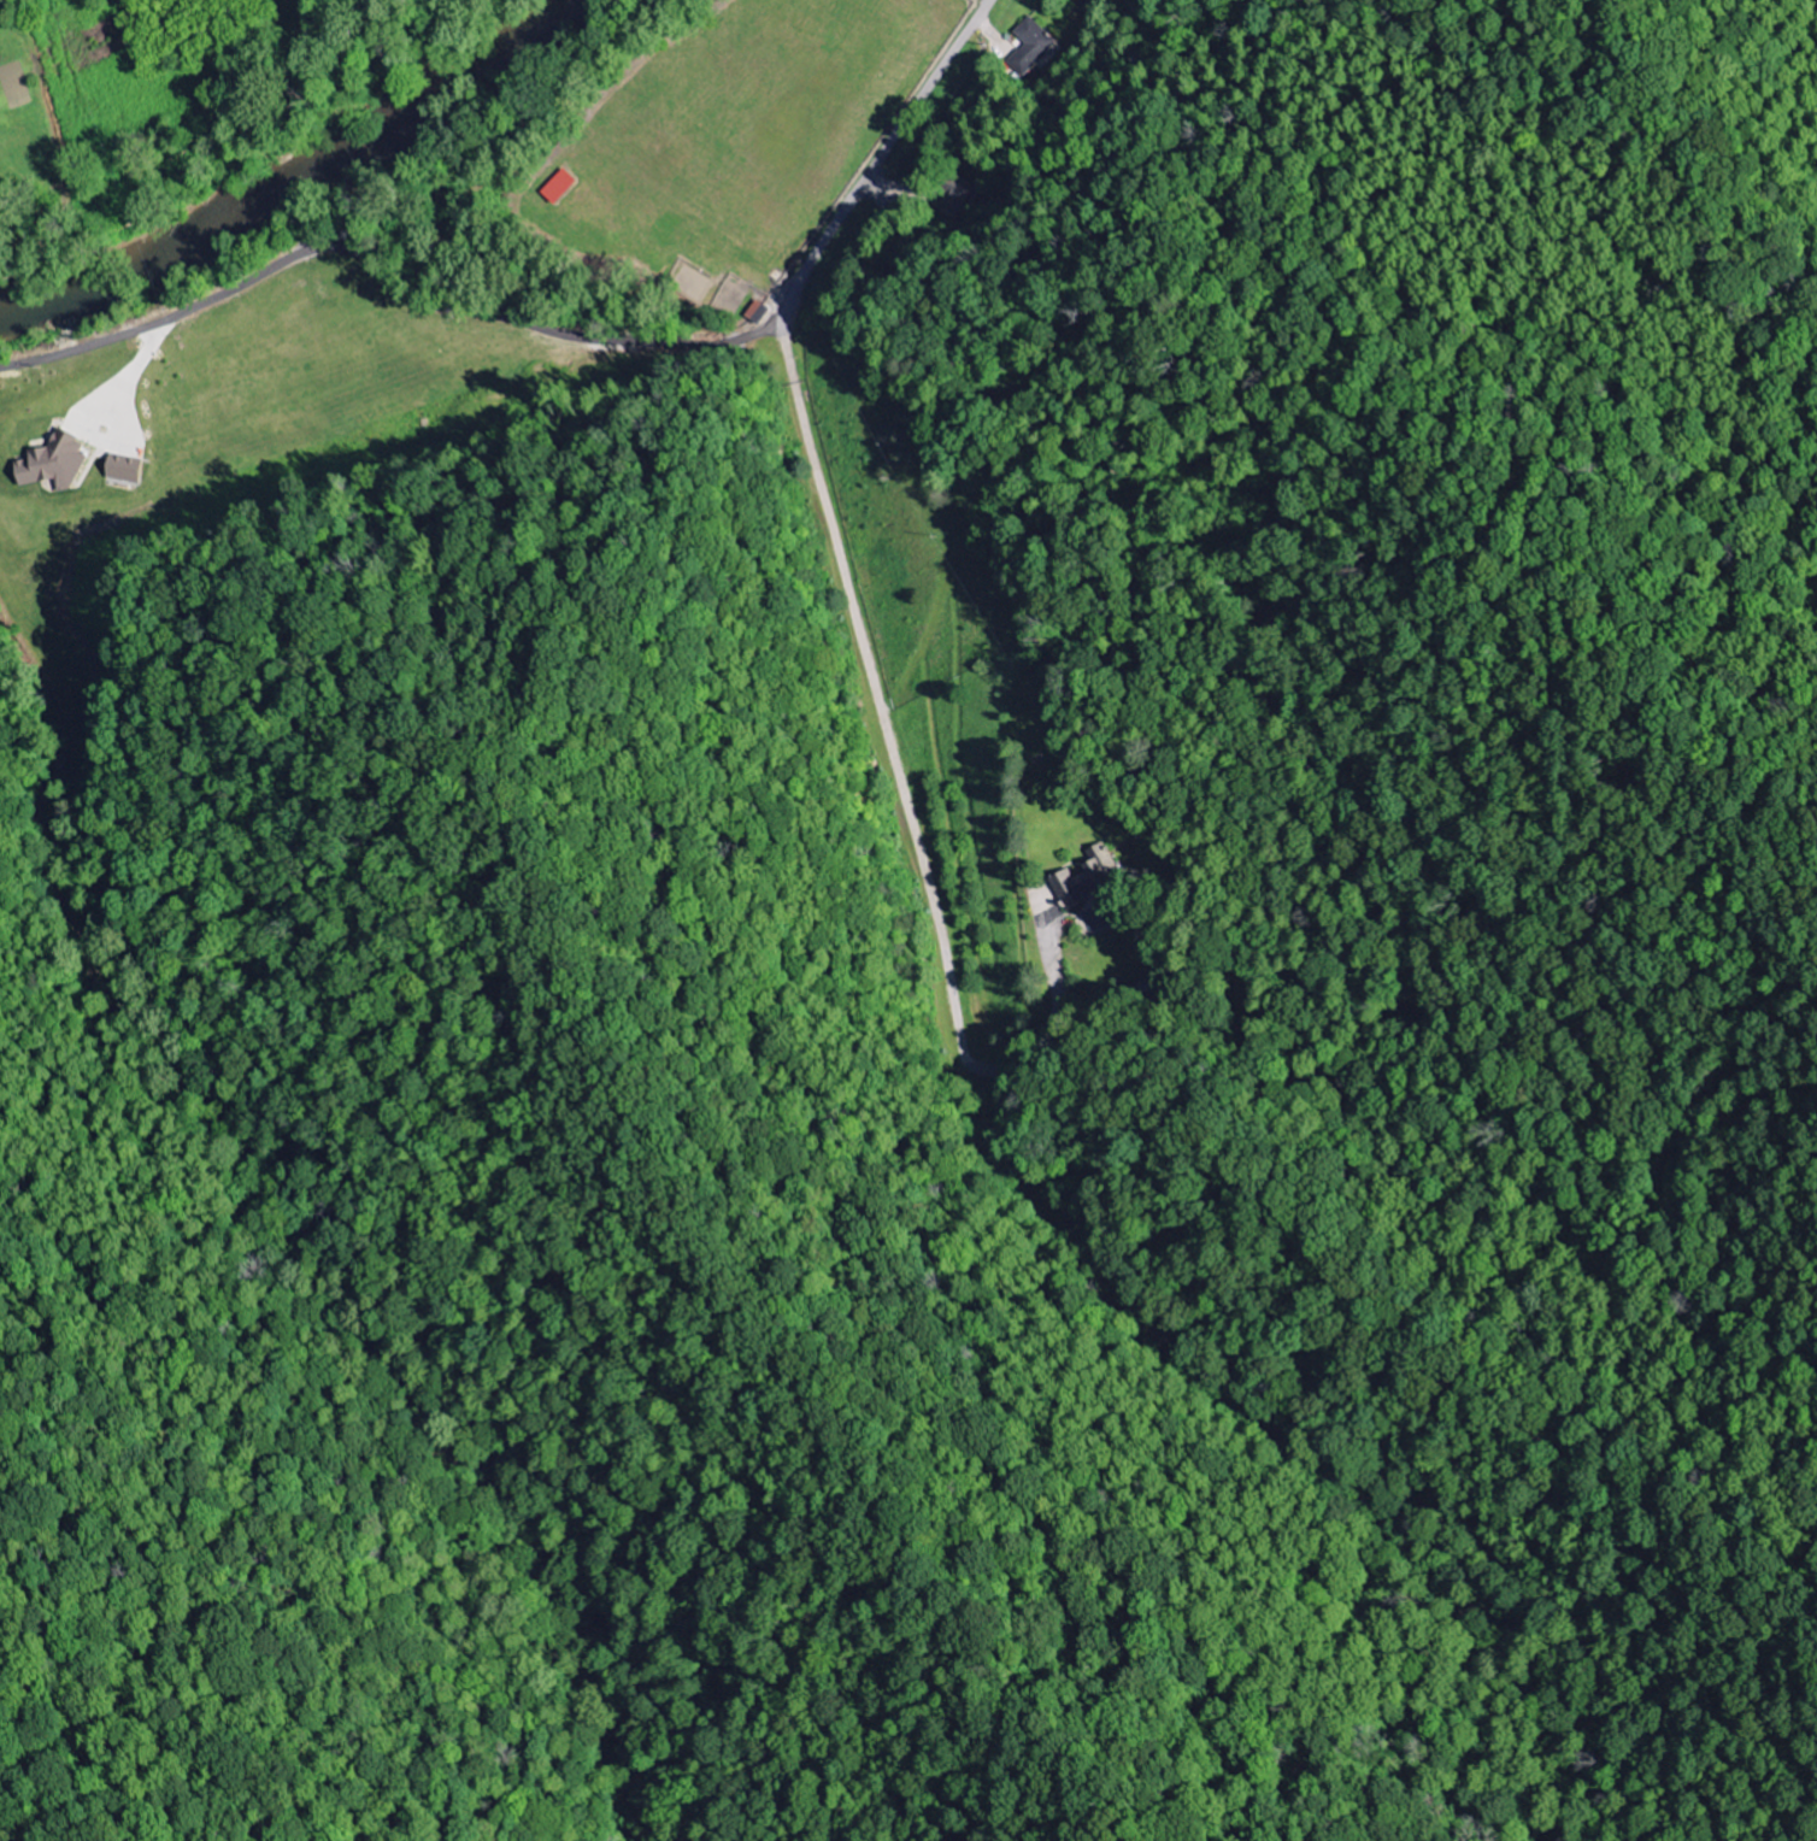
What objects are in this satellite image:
building: (1028, 46)
road: (882, 154)
river: (295, 175)
building: (561, 186)
road: (305, 249)
building: (757, 312)
road: (698, 337)
building: (51, 461)
building: (120, 467)
road: (874, 686)
building: (1083, 883)

